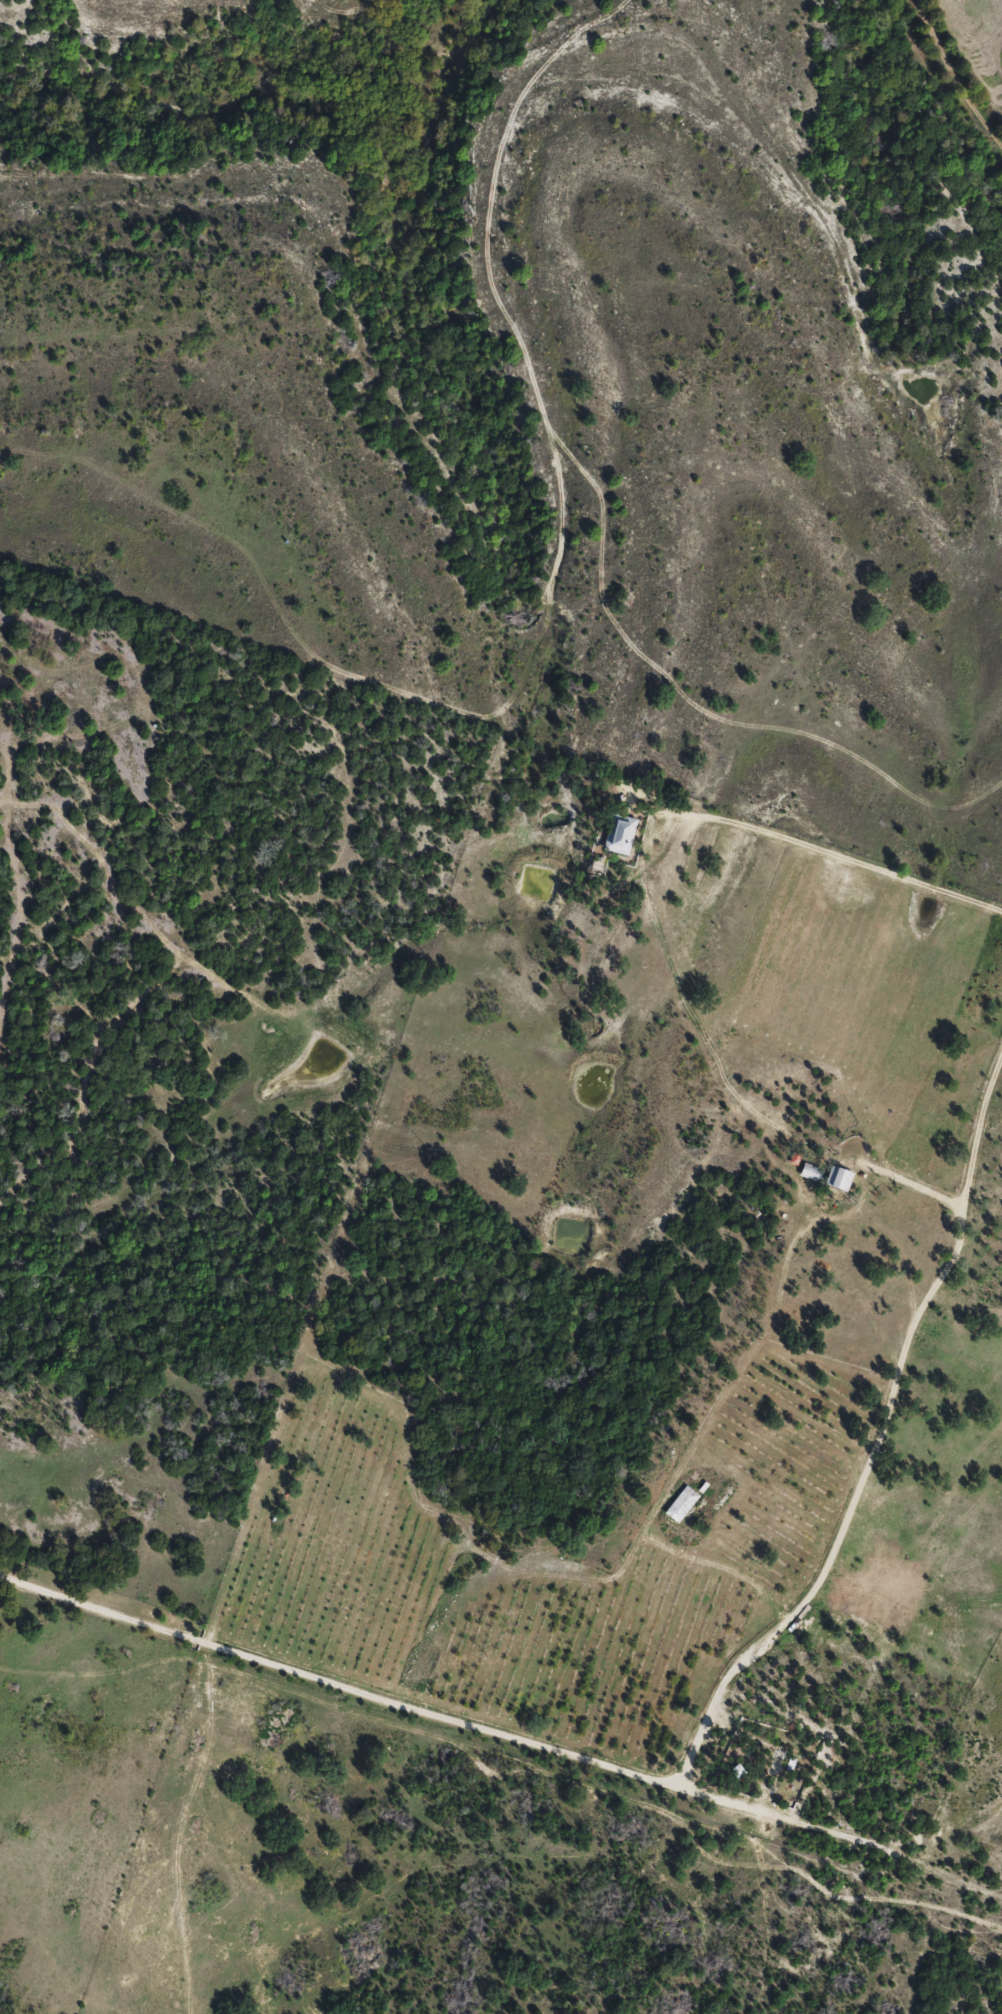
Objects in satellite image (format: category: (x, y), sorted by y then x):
building: (814, 1172)
building: (843, 1178)

